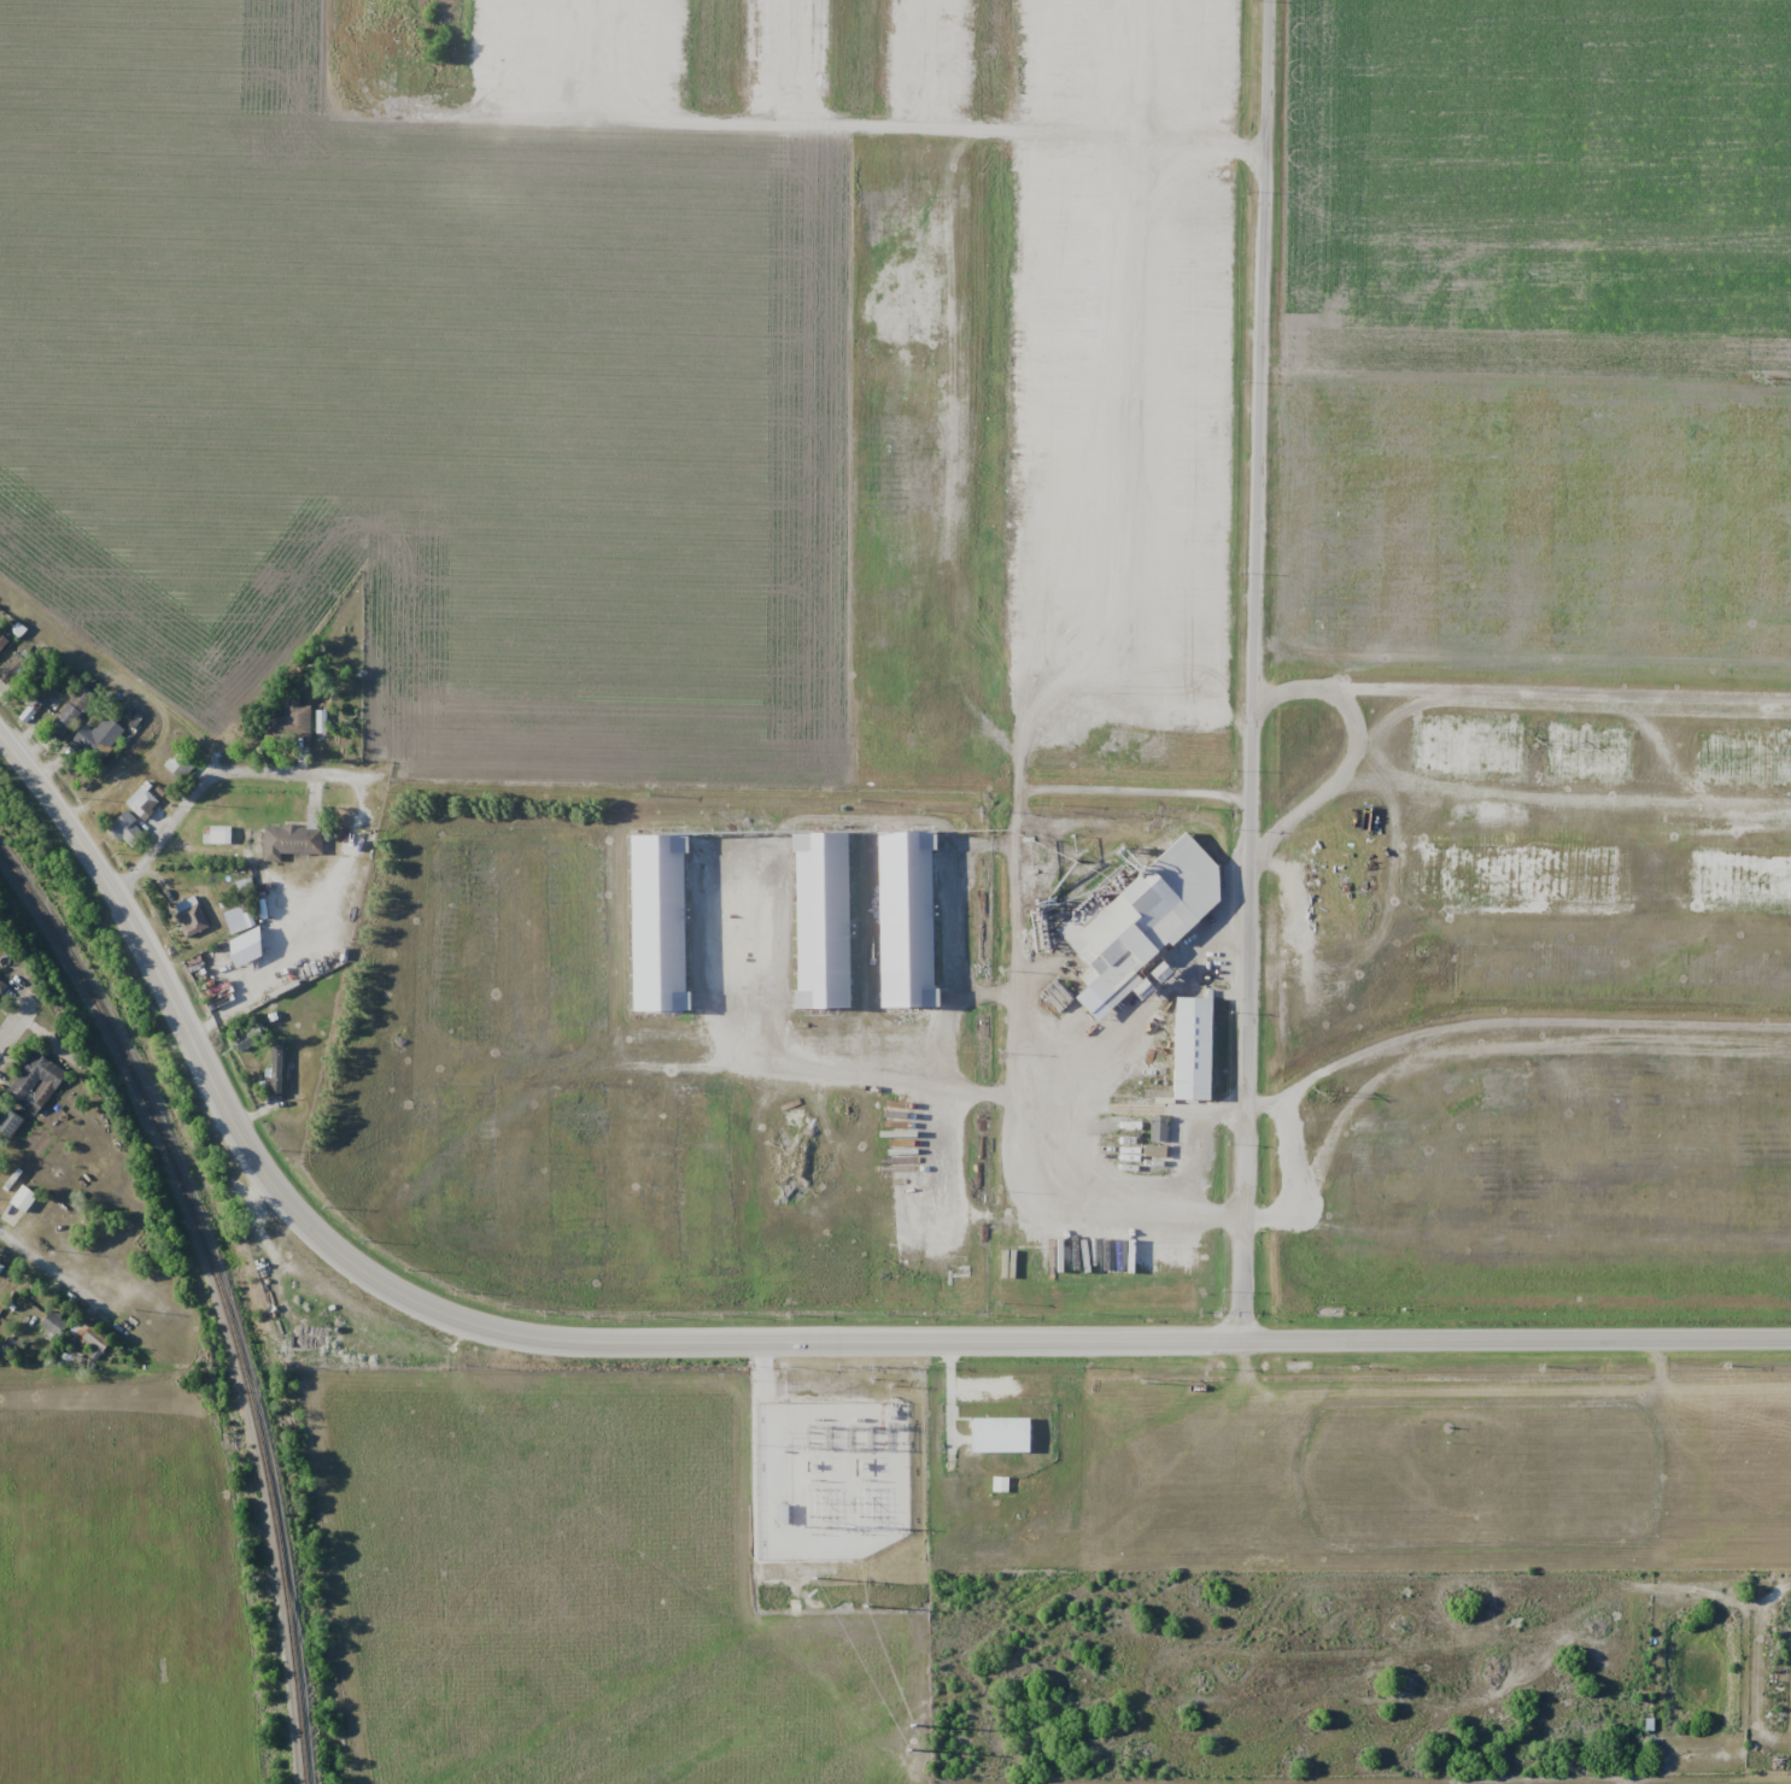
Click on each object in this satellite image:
power tower: (1761, 381)
crop: (412, 399)
road: (300, 618)
building: (2, 642)
building: (16, 664)
road: (1256, 669)
power tower: (1535, 744)
building: (180, 764)
road: (655, 784)
building: (141, 803)
road: (57, 811)
building: (127, 829)
building: (289, 841)
building: (188, 916)
building: (906, 917)
building: (1148, 920)
building: (240, 961)
building: (1, 985)
road: (14, 1021)
building: (245, 1035)
building: (1195, 1047)
building: (275, 1066)
building: (35, 1082)
power tower: (1312, 1095)
building: (10, 1121)
building: (1159, 1128)
building: (19, 1201)
building: (1065, 1255)
road: (51, 1270)
railway: (221, 1296)
building: (54, 1324)
road: (839, 1342)
building: (94, 1343)
power tower: (1137, 1381)
power substation: (847, 1431)
building: (1002, 1434)
power tower: (848, 1602)
power tower: (915, 1608)
power tower: (923, 1715)
power tower: (914, 1729)

